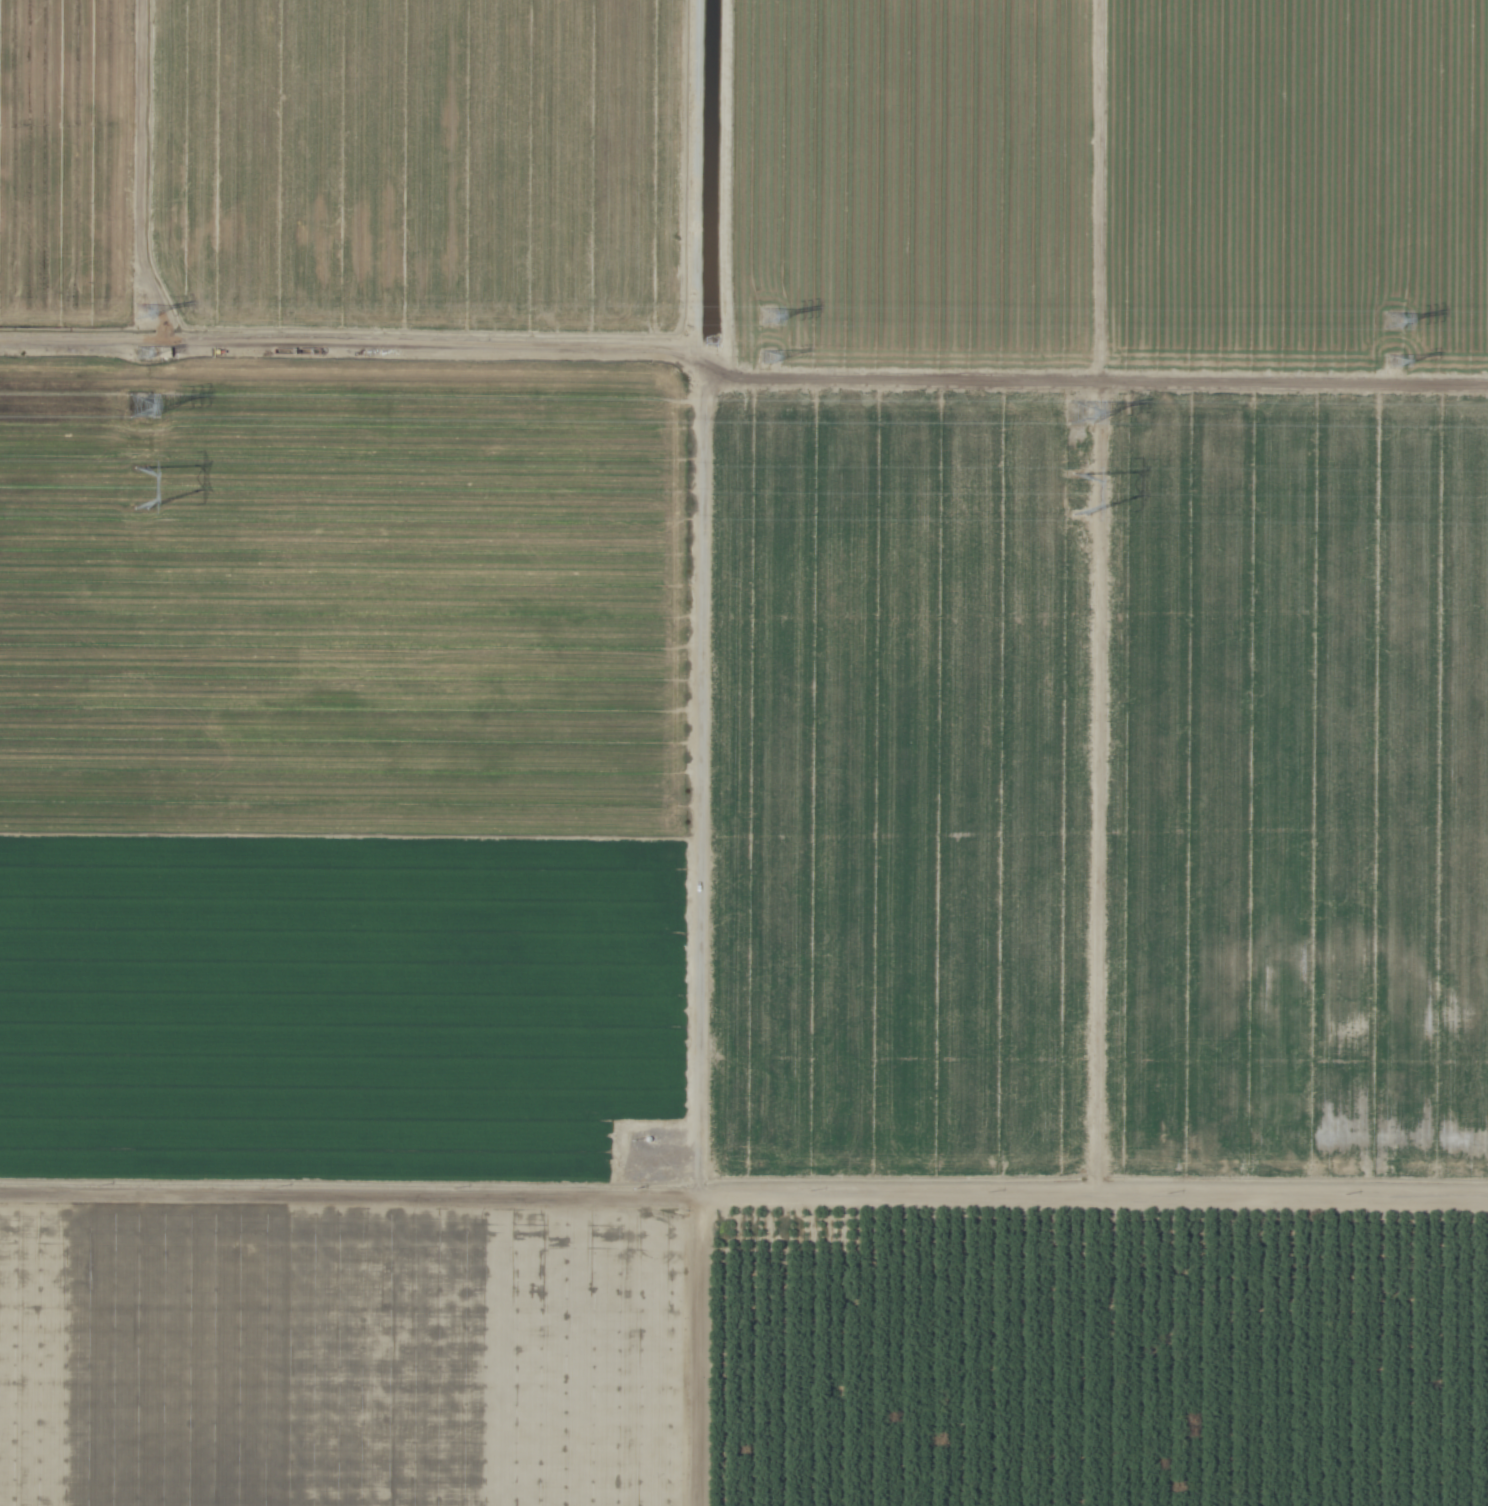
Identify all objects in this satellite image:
power tower: (140, 313)
power tower: (764, 320)
power tower: (1394, 323)
power tower: (143, 355)
power tower: (767, 361)
power tower: (1398, 364)
power tower: (146, 408)
power tower: (1085, 414)
power tower: (149, 492)
power tower: (1086, 498)
road: (690, 597)
crop: (744, 753)
road: (743, 1195)

